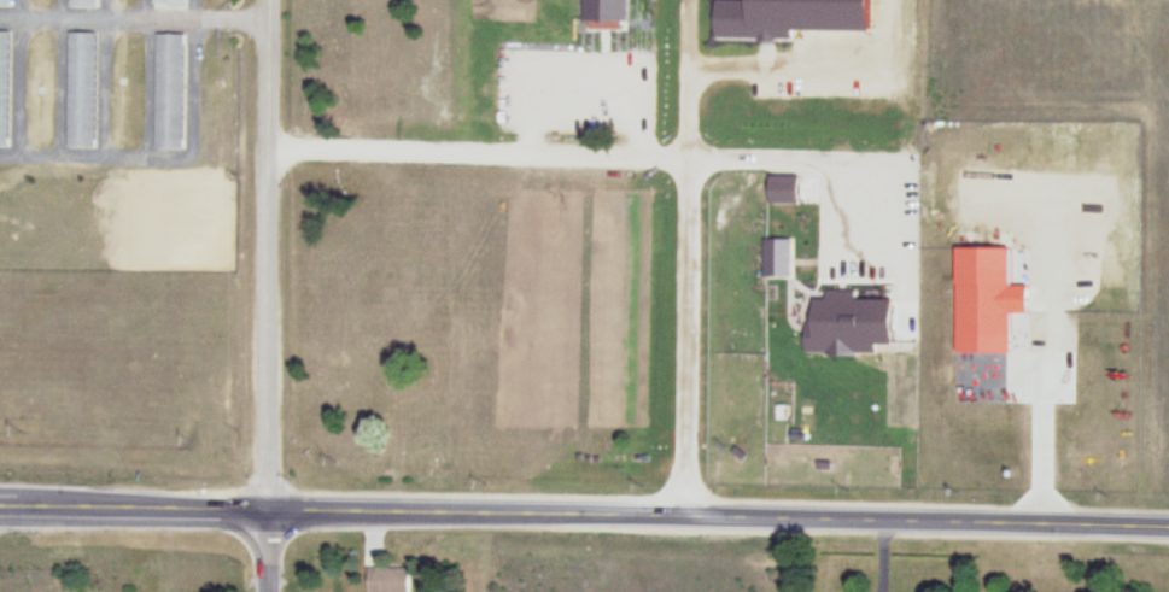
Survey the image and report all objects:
building: (5, 5)
building: (83, 5)
road: (689, 37)
road: (818, 72)
building: (5, 90)
building: (82, 92)
building: (171, 93)
road: (580, 163)
road: (268, 256)
road: (685, 299)
building: (990, 301)
road: (584, 520)
road: (268, 552)
building: (390, 580)

